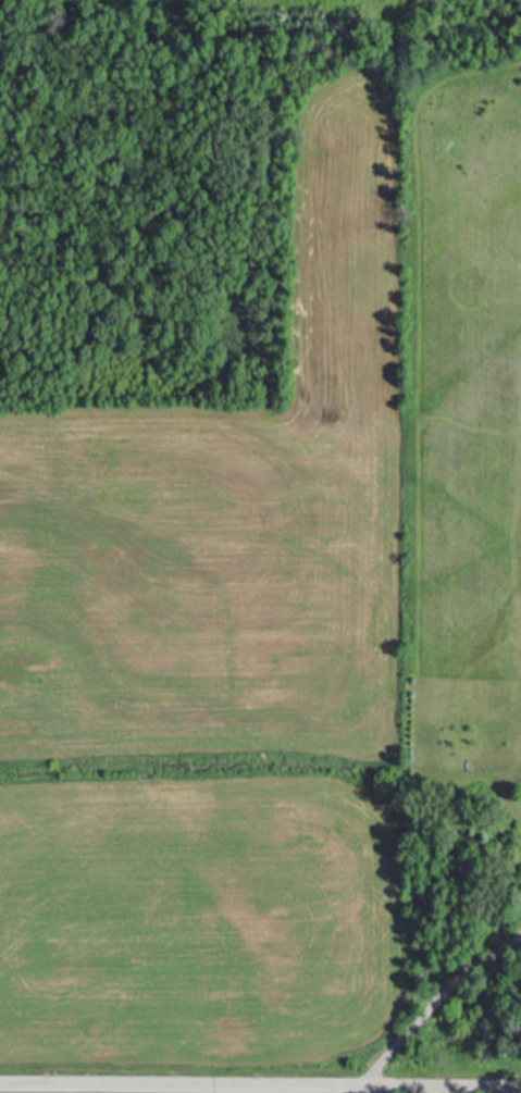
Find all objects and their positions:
road: (433, 999)
road: (260, 1084)

